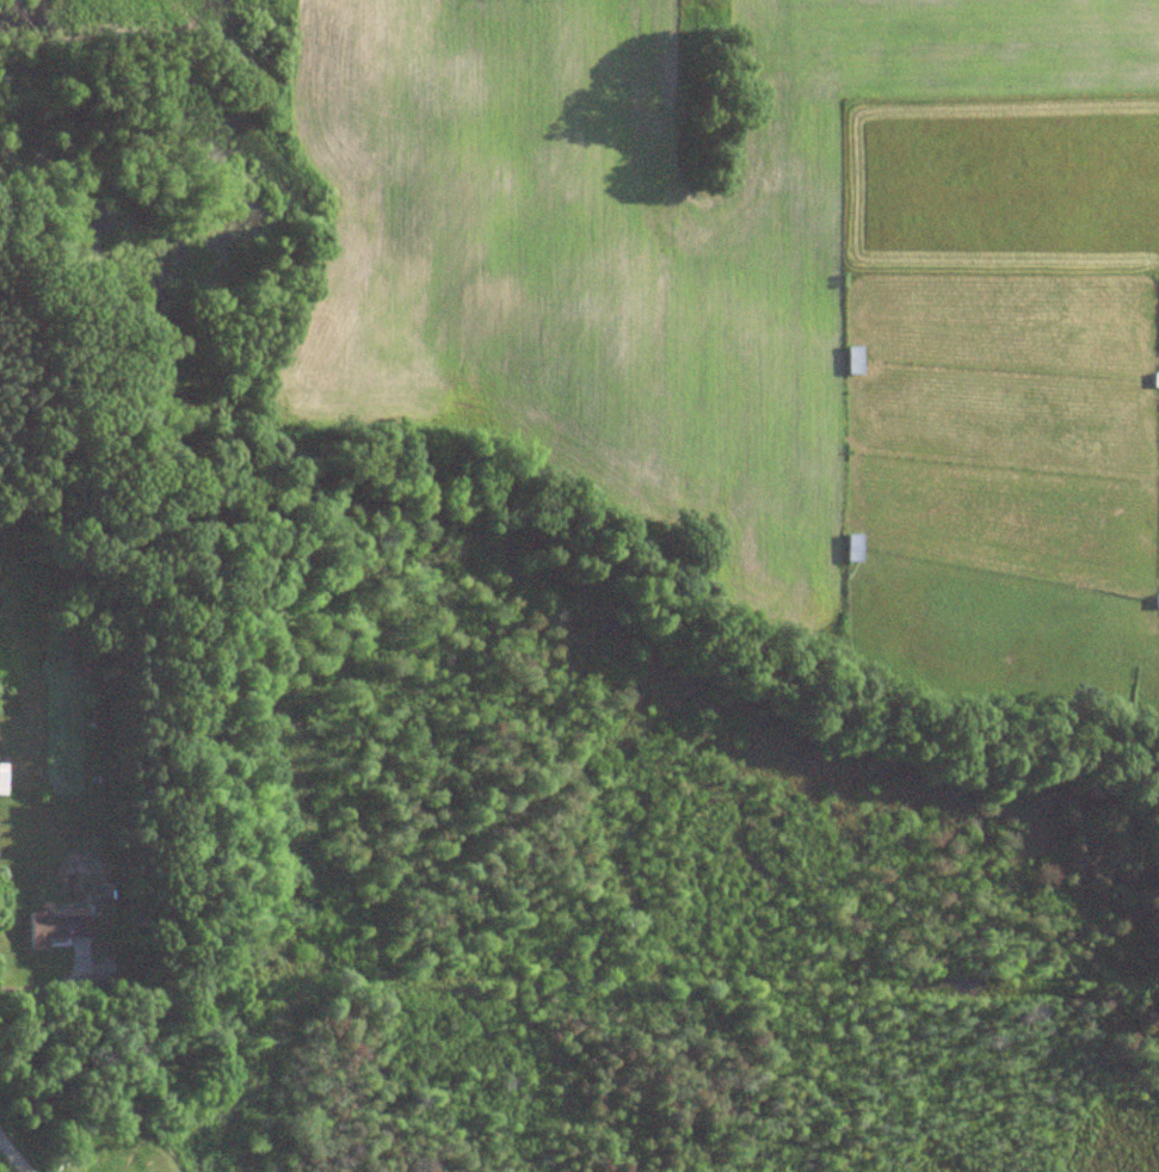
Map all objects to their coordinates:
building: (852, 360)
building: (853, 548)
building: (1, 778)
building: (54, 930)
road: (85, 981)
road: (4, 1165)

